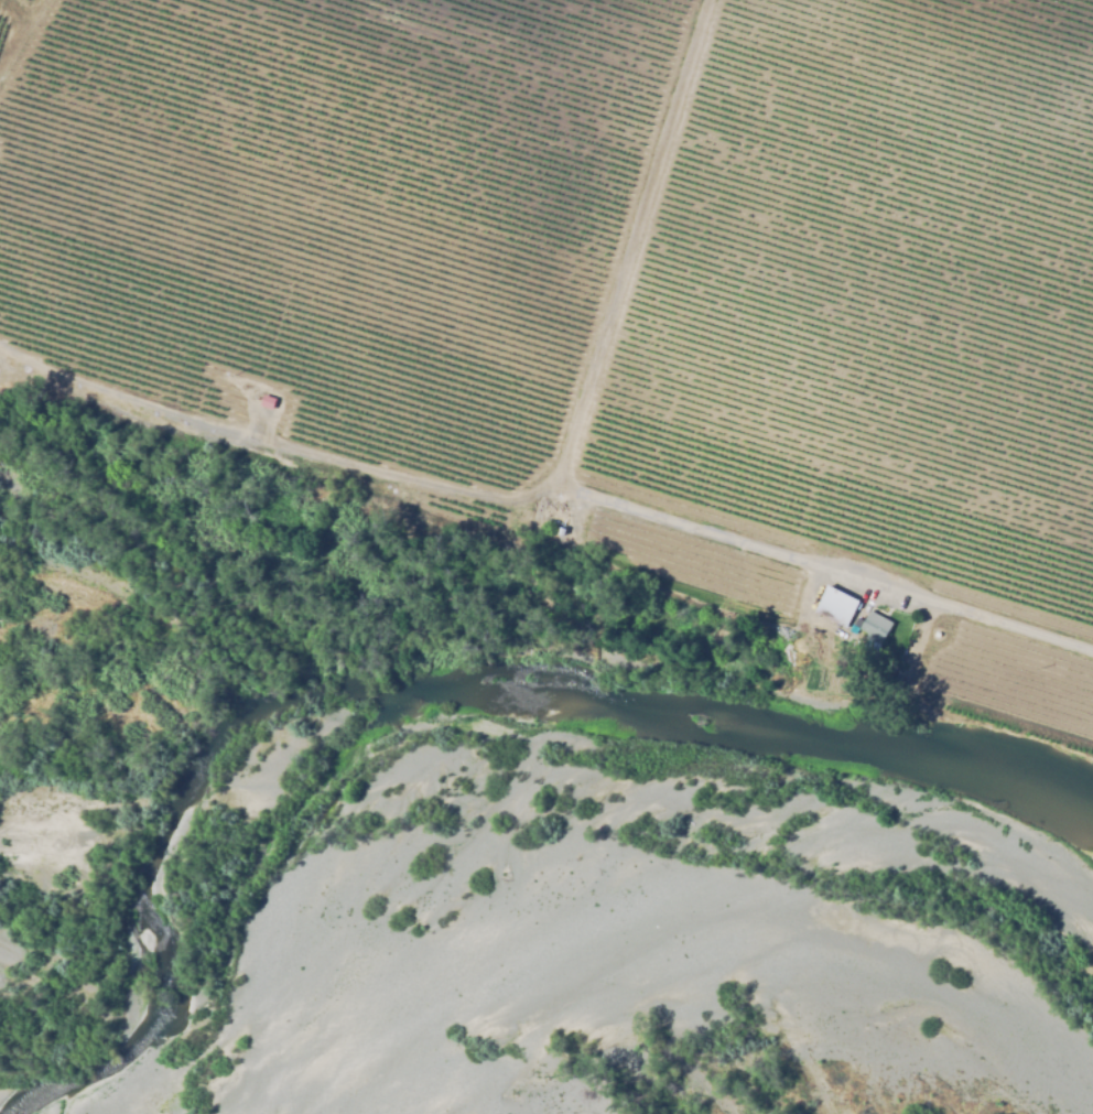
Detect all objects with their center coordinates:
building: (269, 404)
road: (679, 523)
building: (561, 530)
building: (836, 606)
building: (875, 627)
river: (576, 896)

